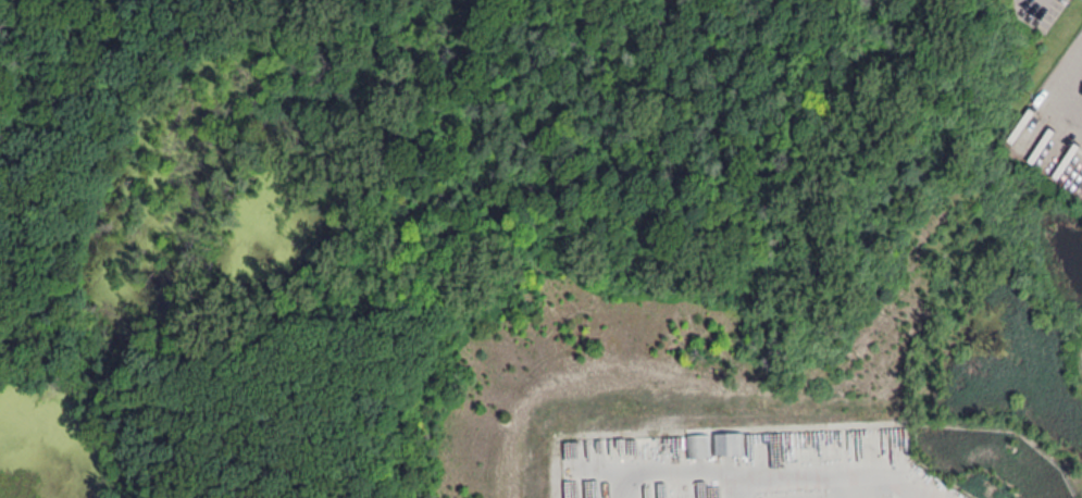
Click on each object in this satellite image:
road: (10, 32)
road: (1050, 101)
park: (472, 231)

